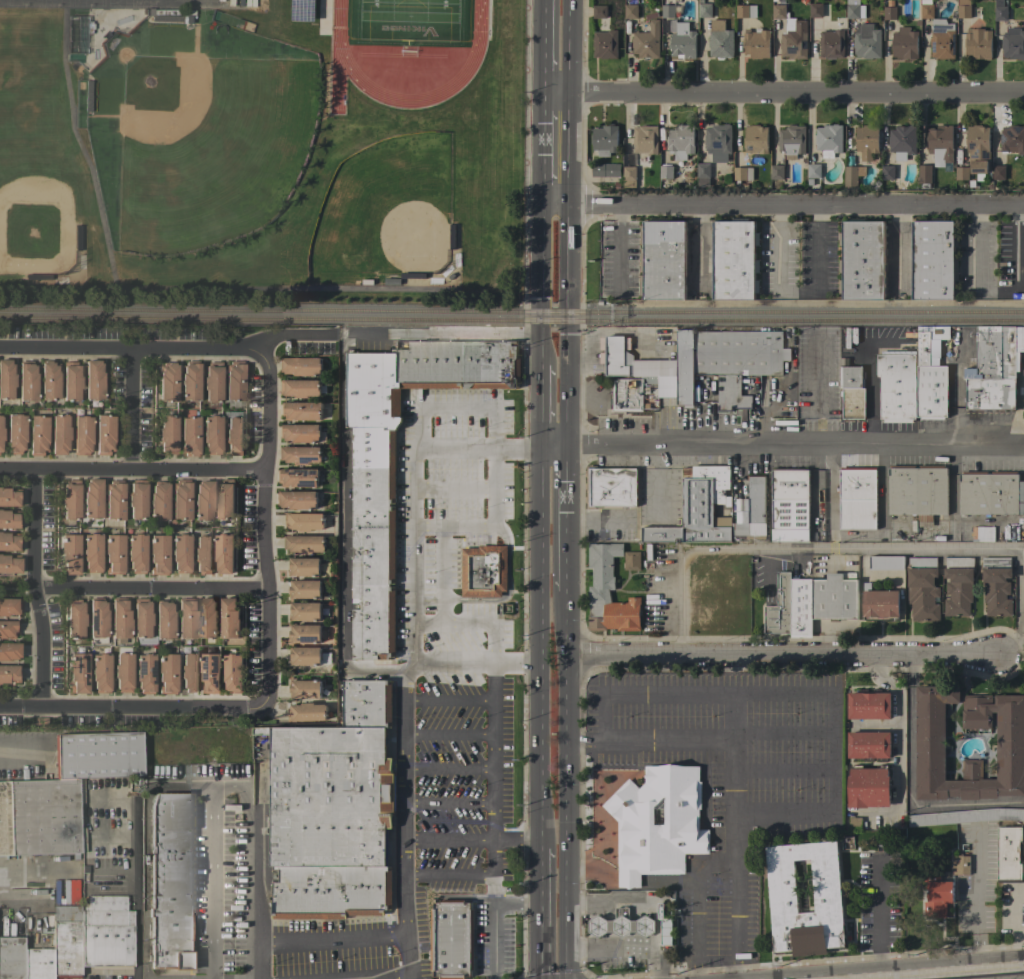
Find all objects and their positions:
building: (854, 9)
building: (963, 9)
building: (705, 10)
building: (815, 10)
building: (1000, 10)
building: (630, 11)
building: (667, 11)
building: (745, 11)
building: (926, 11)
building: (599, 12)
building: (779, 12)
building: (889, 13)
building: (166, 17)
building: (942, 39)
building: (720, 40)
building: (794, 40)
building: (647, 41)
building: (866, 41)
building: (682, 42)
building: (756, 43)
building: (904, 43)
building: (978, 43)
building: (605, 44)
building: (832, 44)
building: (1013, 44)
road: (540, 47)
road: (782, 94)
building: (87, 95)
road: (540, 103)
building: (645, 139)
building: (604, 140)
building: (755, 140)
building: (829, 140)
building: (1012, 140)
building: (680, 141)
building: (791, 141)
building: (866, 141)
building: (902, 141)
building: (718, 142)
building: (940, 146)
building: (978, 149)
road: (539, 160)
building: (606, 171)
building: (813, 171)
building: (665, 172)
building: (776, 172)
building: (887, 172)
building: (998, 172)
building: (961, 173)
building: (703, 174)
building: (742, 174)
building: (851, 175)
building: (924, 175)
building: (628, 176)
road: (781, 208)
road: (568, 223)
road: (1016, 246)
road: (617, 248)
road: (896, 248)
building: (662, 260)
building: (734, 260)
building: (861, 260)
building: (933, 260)
road: (975, 269)
road: (538, 287)
road: (796, 291)
railway: (511, 311)
railway: (511, 319)
building: (910, 334)
road: (296, 335)
road: (439, 337)
building: (702, 362)
building: (302, 366)
building: (994, 368)
building: (930, 373)
building: (6, 379)
building: (49, 379)
building: (93, 379)
building: (26, 380)
building: (70, 380)
building: (234, 380)
building: (167, 381)
building: (190, 381)
building: (212, 381)
building: (649, 384)
building: (816, 384)
building: (896, 385)
building: (300, 388)
building: (852, 393)
building: (627, 395)
road: (537, 407)
building: (302, 410)
road: (131, 412)
building: (15, 432)
building: (1, 433)
building: (59, 433)
building: (104, 433)
building: (167, 433)
building: (302, 433)
building: (37, 434)
building: (81, 434)
building: (211, 434)
building: (189, 435)
building: (234, 435)
road: (414, 447)
road: (779, 449)
road: (475, 451)
building: (300, 454)
road: (131, 473)
building: (298, 477)
building: (611, 487)
road: (454, 491)
building: (917, 492)
building: (990, 493)
building: (9, 496)
building: (92, 498)
building: (136, 498)
building: (180, 498)
building: (114, 499)
building: (225, 499)
building: (297, 499)
building: (857, 499)
building: (70, 500)
building: (158, 500)
building: (203, 500)
building: (373, 505)
building: (789, 505)
building: (697, 508)
building: (753, 512)
building: (9, 519)
road: (566, 519)
building: (304, 521)
road: (453, 528)
road: (263, 529)
road: (502, 534)
building: (983, 534)
road: (343, 535)
building: (9, 541)
building: (305, 544)
road: (857, 548)
building: (91, 552)
building: (136, 552)
building: (180, 552)
building: (69, 553)
building: (113, 553)
building: (157, 553)
building: (224, 553)
building: (202, 554)
building: (632, 561)
building: (9, 563)
building: (886, 563)
building: (304, 567)
building: (483, 571)
road: (440, 576)
building: (996, 585)
building: (958, 586)
building: (922, 588)
road: (17, 589)
building: (304, 589)
road: (33, 590)
road: (148, 590)
building: (608, 592)
building: (833, 597)
building: (879, 602)
building: (9, 605)
building: (779, 607)
building: (800, 607)
building: (305, 611)
building: (97, 617)
building: (74, 618)
building: (119, 618)
building: (186, 618)
building: (208, 618)
building: (230, 618)
building: (163, 619)
building: (142, 621)
road: (453, 625)
building: (8, 628)
building: (305, 634)
road: (535, 647)
building: (9, 650)
road: (783, 651)
building: (305, 656)
road: (457, 664)
road: (518, 665)
building: (122, 669)
building: (211, 671)
building: (77, 672)
building: (100, 672)
building: (144, 672)
building: (189, 672)
building: (9, 673)
building: (166, 673)
building: (233, 673)
building: (304, 688)
road: (715, 692)
road: (448, 701)
building: (367, 703)
building: (869, 706)
building: (306, 712)
road: (599, 717)
road: (782, 733)
road: (447, 735)
road: (666, 743)
road: (583, 744)
building: (930, 744)
building: (868, 746)
road: (19, 748)
road: (832, 751)
building: (96, 754)
road: (897, 754)
road: (494, 764)
road: (447, 770)
road: (782, 770)
road: (199, 781)
road: (565, 784)
building: (868, 786)
road: (110, 797)
road: (447, 804)
road: (958, 806)
road: (783, 815)
building: (39, 816)
building: (965, 816)
road: (400, 818)
building: (330, 821)
building: (657, 823)
road: (733, 824)
building: (855, 824)
road: (447, 840)
road: (515, 840)
building: (1010, 855)
road: (261, 860)
road: (714, 862)
building: (960, 865)
road: (447, 876)
road: (111, 879)
building: (169, 879)
road: (976, 879)
road: (209, 880)
road: (670, 884)
building: (782, 886)
road: (133, 888)
road: (22, 896)
building: (937, 898)
road: (595, 901)
road: (638, 901)
road: (876, 902)
road: (515, 904)
road: (696, 912)
road: (537, 913)
building: (621, 924)
road: (607, 926)
road: (651, 926)
building: (663, 926)
building: (106, 932)
building: (451, 939)
road: (650, 939)
road: (333, 940)
road: (494, 940)
building: (65, 941)
road: (639, 944)
road: (586, 946)
road: (978, 949)
building: (11, 957)
road: (715, 959)
road: (879, 960)
building: (37, 963)
road: (735, 968)
road: (909, 969)
road: (696, 970)
road: (408, 971)
road: (940, 973)
road: (380, 975)
road: (494, 977)
road: (807, 978)

